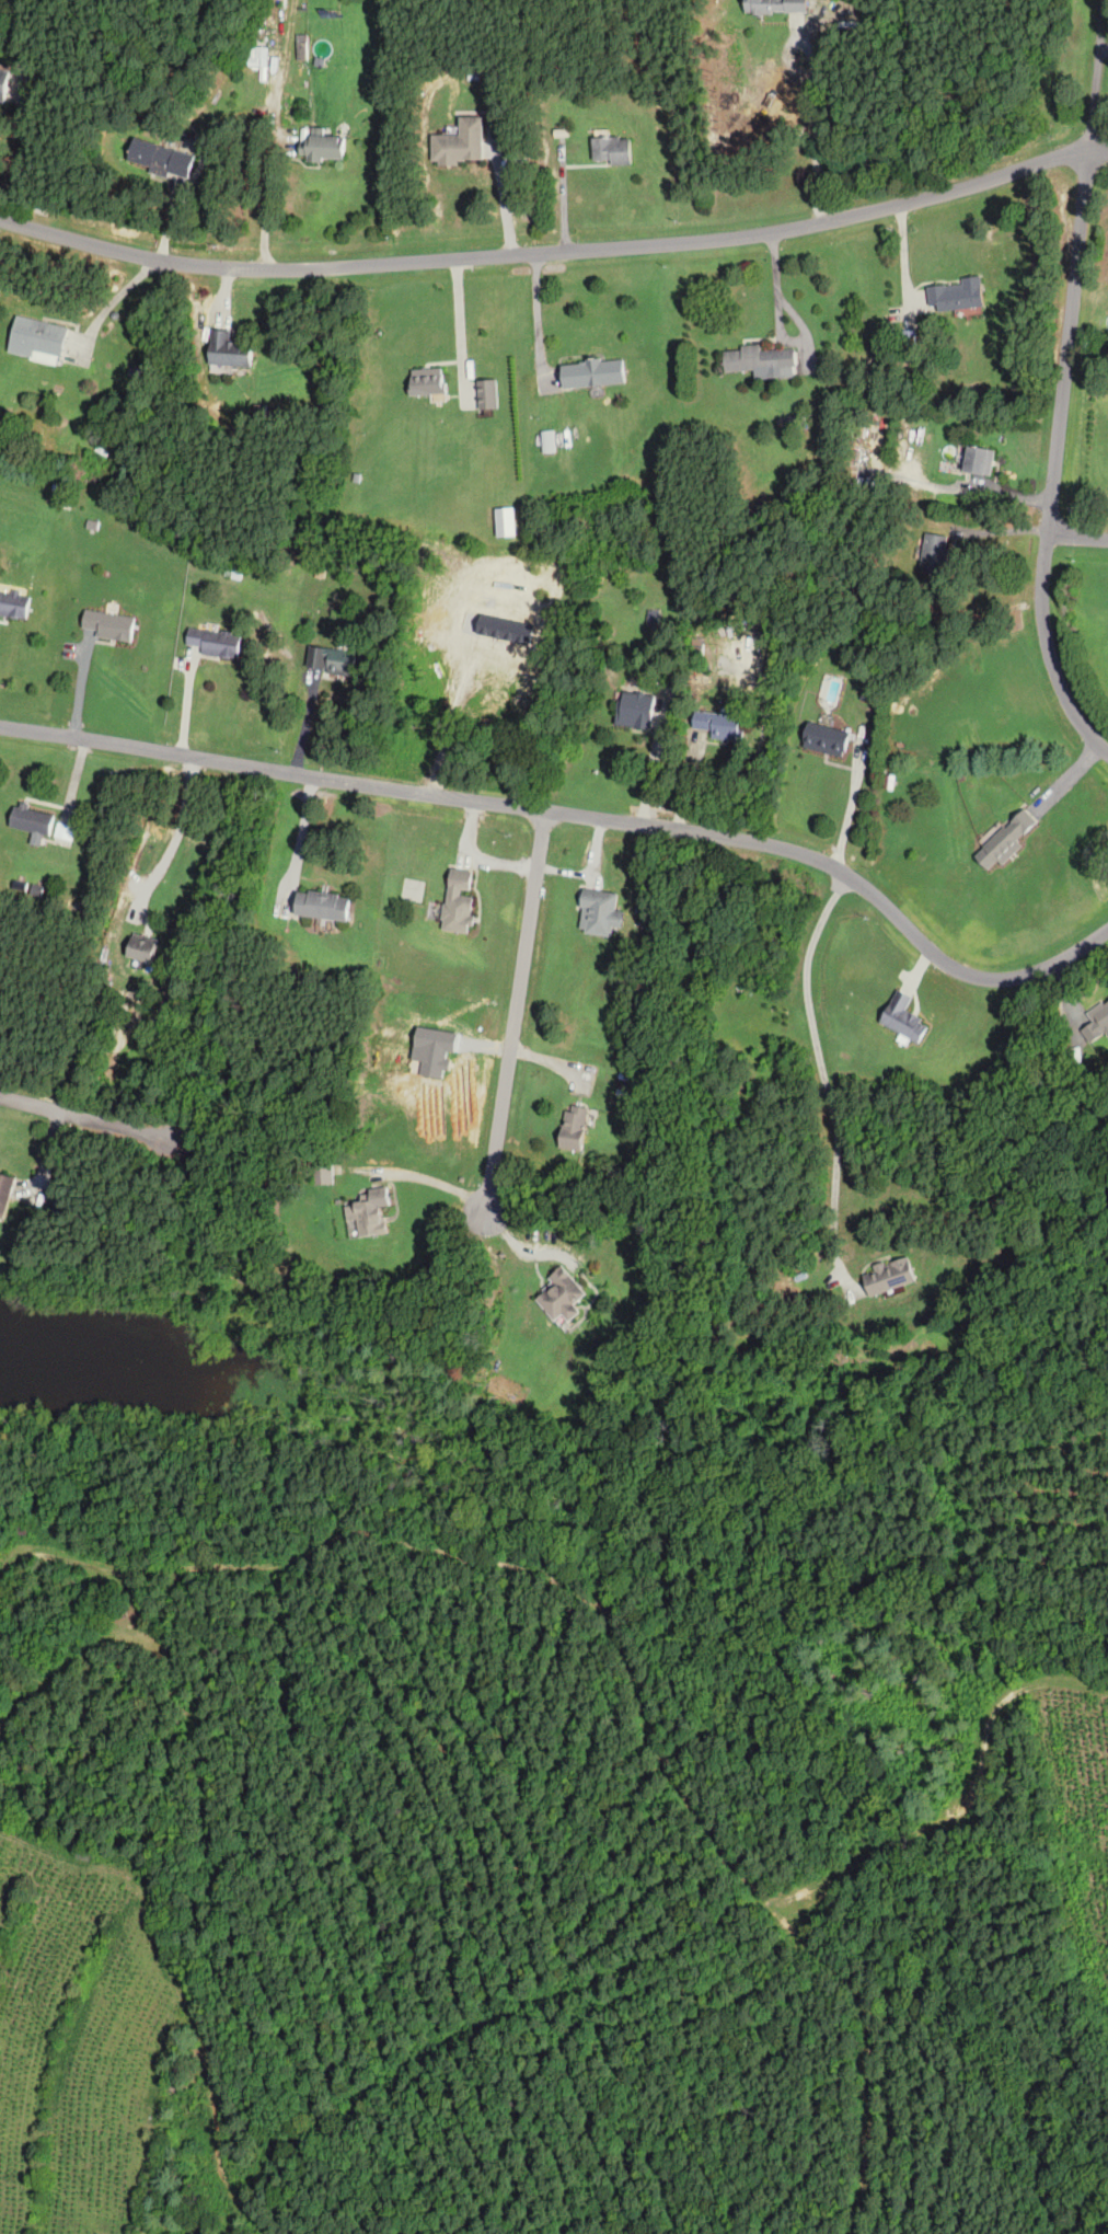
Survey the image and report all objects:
building: (774, 5)
building: (301, 46)
road: (1097, 73)
building: (3, 81)
road: (818, 126)
building: (459, 142)
building: (323, 145)
building: (610, 149)
road: (24, 156)
building: (158, 157)
road: (563, 198)
road: (506, 200)
road: (269, 207)
road: (556, 251)
road: (902, 260)
road: (776, 285)
building: (955, 295)
road: (112, 302)
road: (538, 320)
road: (461, 330)
building: (34, 338)
road: (1069, 341)
building: (227, 348)
building: (759, 359)
building: (590, 372)
building: (426, 380)
building: (486, 393)
building: (546, 441)
building: (977, 460)
road: (1077, 538)
building: (934, 554)
building: (13, 604)
building: (108, 625)
building: (211, 643)
road: (1050, 653)
building: (332, 661)
road: (184, 701)
building: (634, 710)
road: (303, 721)
building: (717, 725)
building: (823, 738)
road: (273, 770)
road: (851, 807)
building: (32, 822)
building: (62, 832)
road: (176, 839)
road: (297, 840)
building: (1003, 841)
road: (846, 875)
building: (455, 901)
building: (320, 906)
building: (597, 912)
road: (516, 1007)
building: (901, 1018)
building: (1096, 1022)
road: (824, 1080)
road: (83, 1119)
building: (570, 1127)
building: (322, 1174)
building: (3, 1191)
building: (368, 1212)
road: (520, 1248)
building: (887, 1276)
building: (561, 1294)

